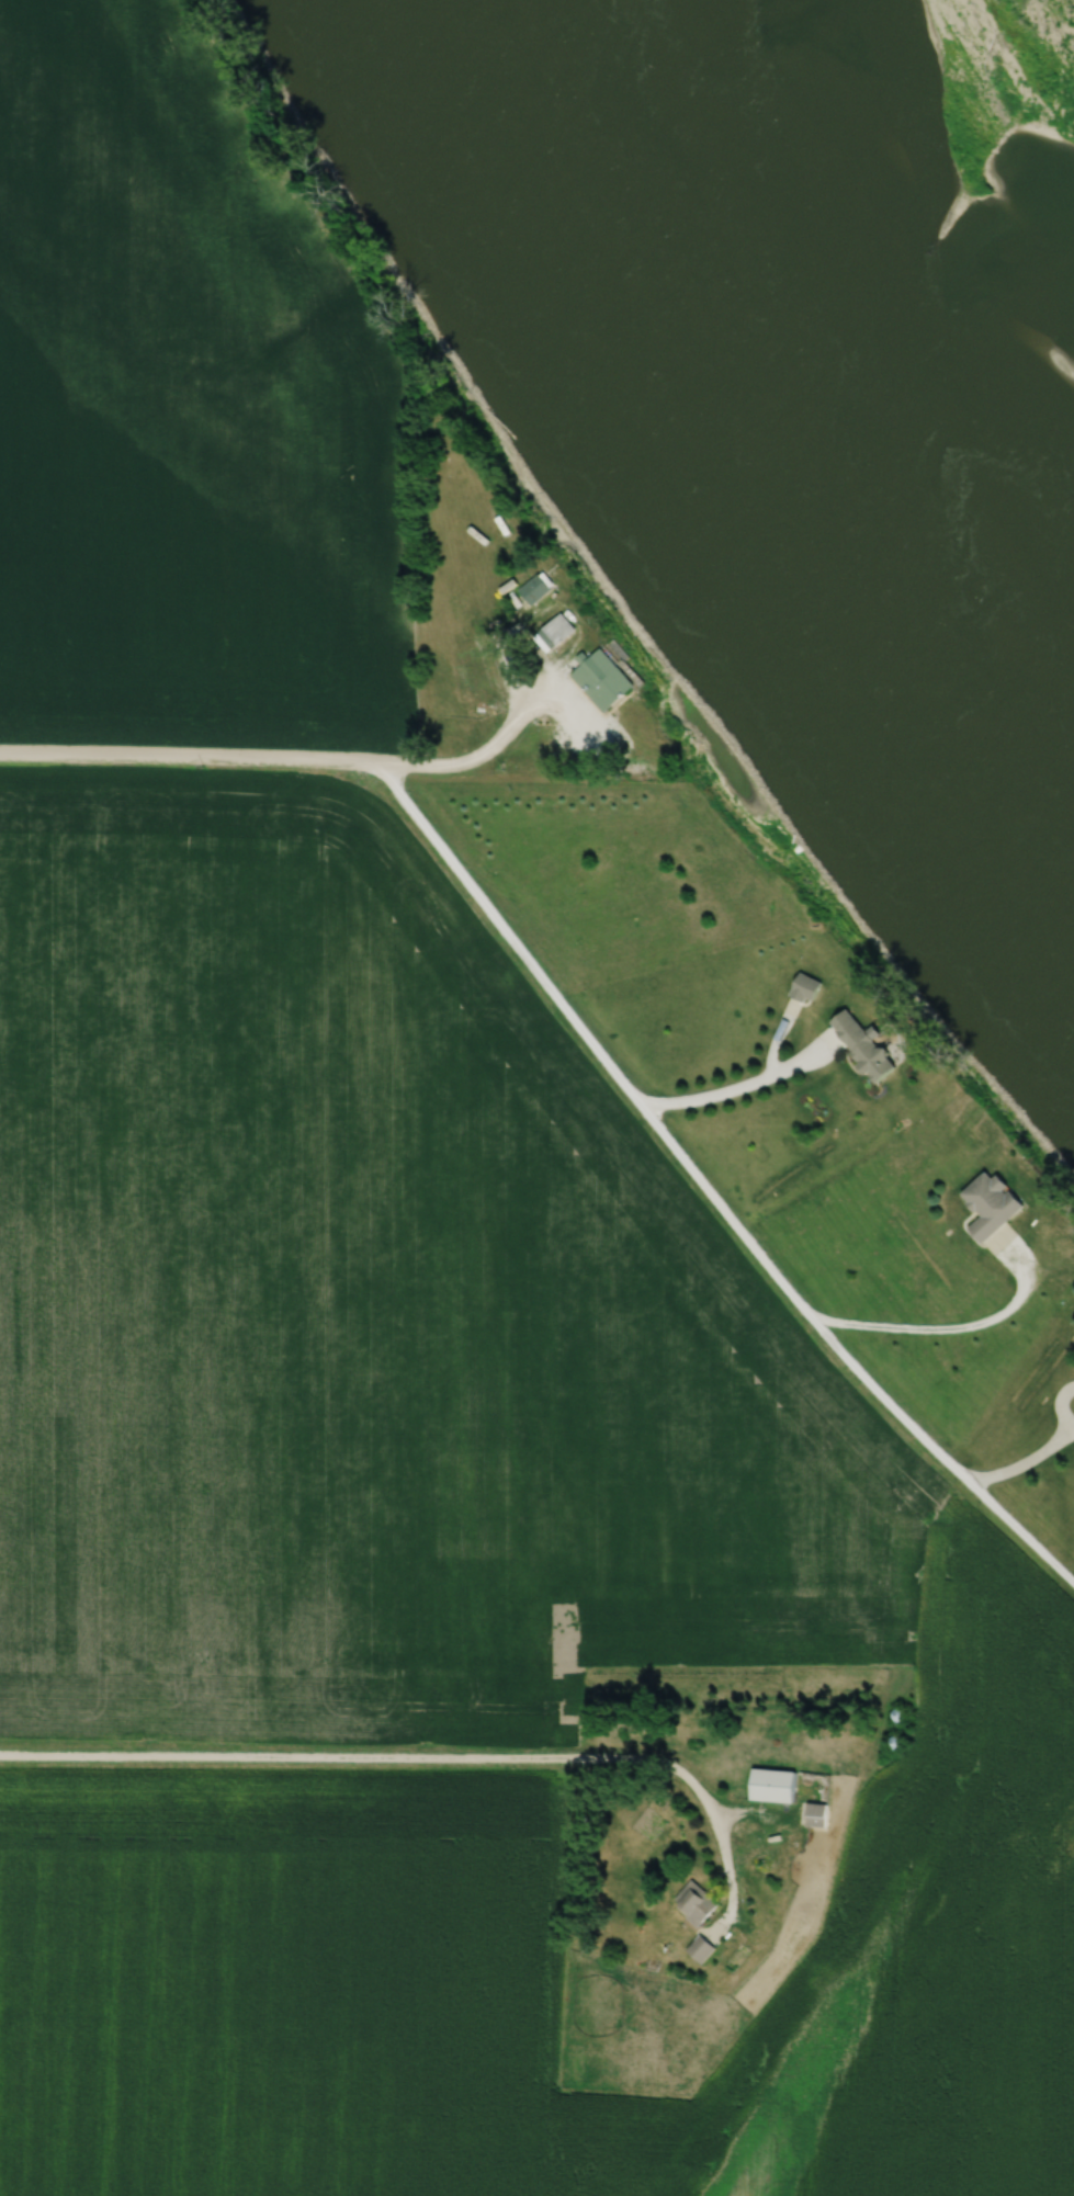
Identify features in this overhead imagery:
river: (784, 362)
building: (532, 585)
building: (552, 627)
building: (597, 676)
road: (276, 765)
building: (803, 985)
building: (856, 1041)
road: (738, 1089)
road: (705, 1195)
building: (986, 1202)
road: (949, 1329)
road: (1022, 1462)
road: (427, 1765)
building: (769, 1784)
building: (812, 1813)
building: (690, 1902)
building: (697, 1947)

